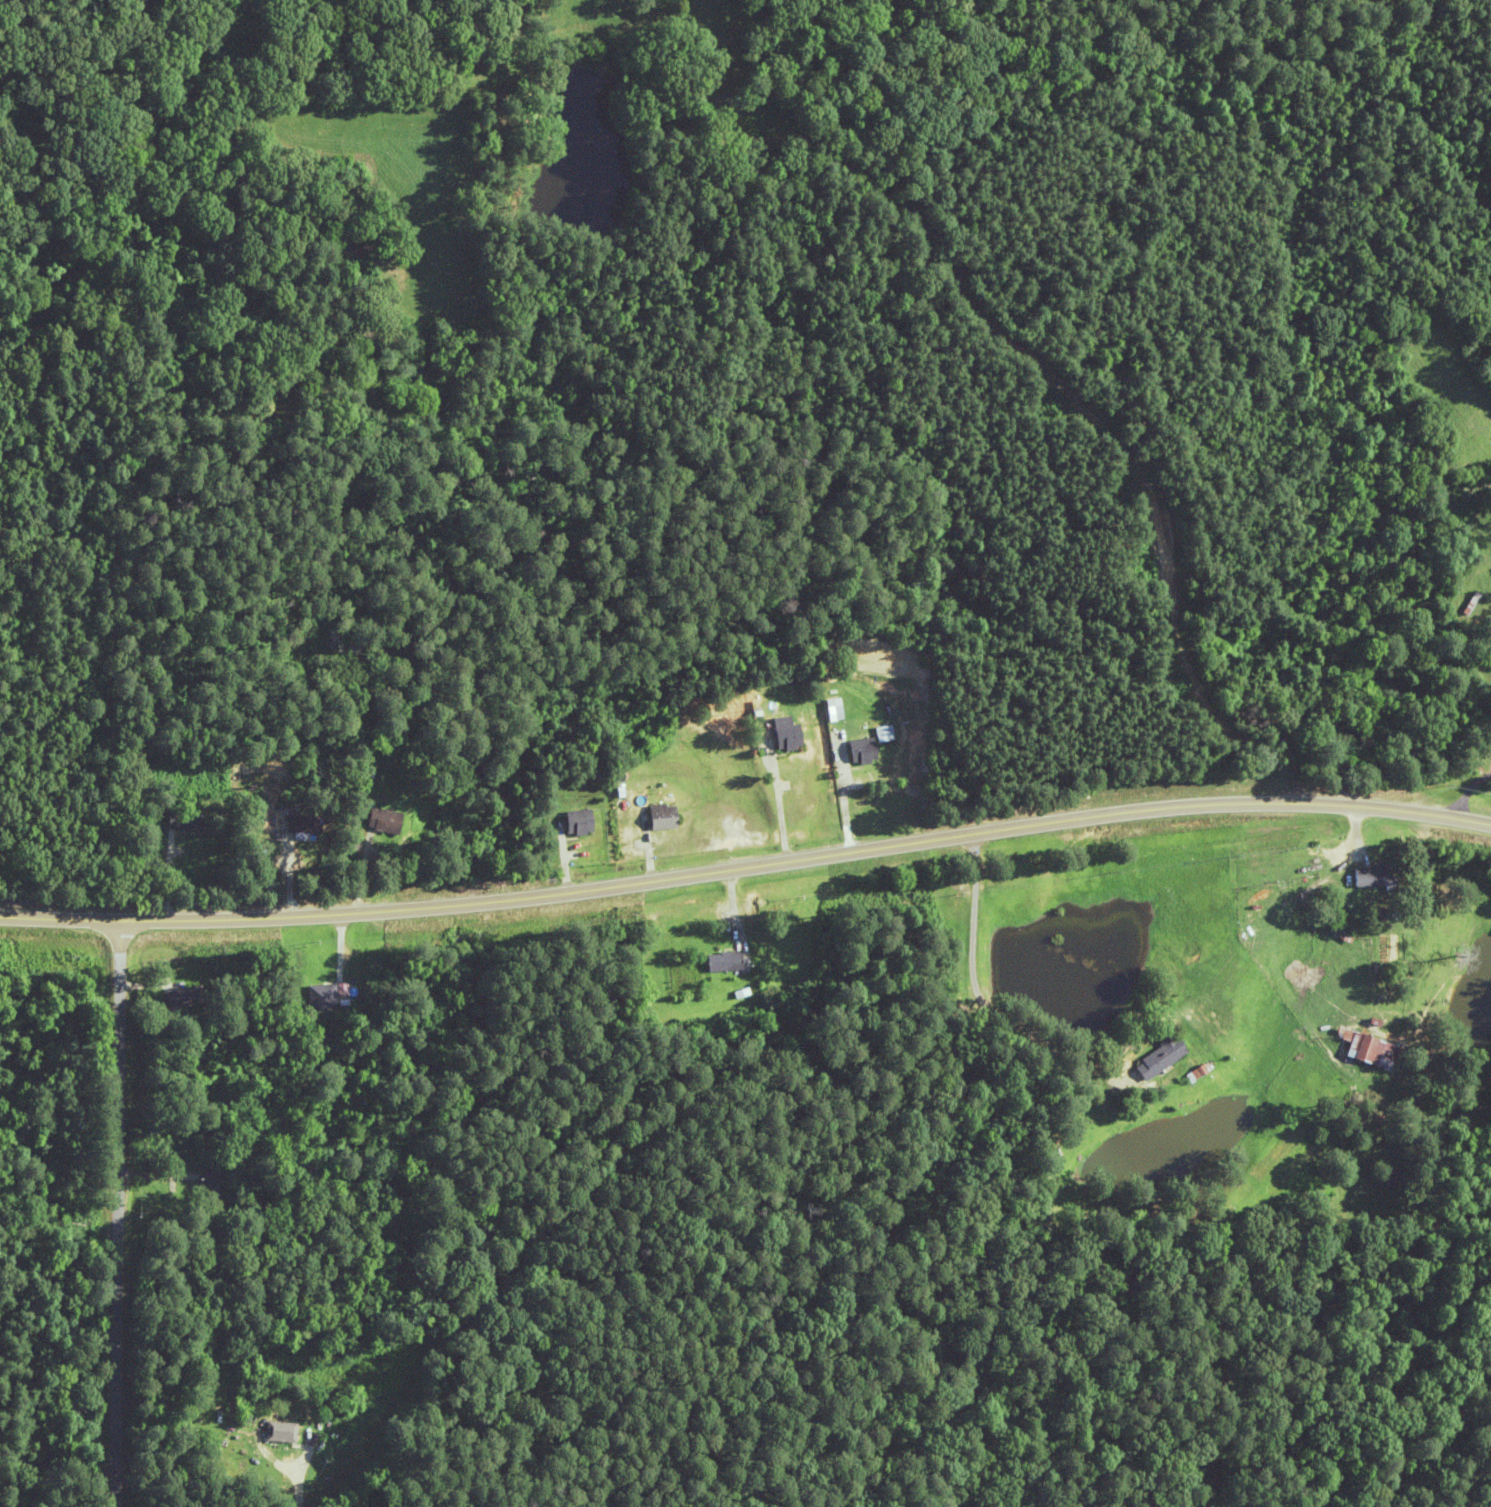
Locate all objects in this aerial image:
road: (457, 151)
building: (1490, 617)
building: (837, 709)
building: (787, 733)
building: (888, 733)
building: (863, 750)
building: (660, 816)
building: (186, 821)
building: (382, 821)
building: (577, 821)
building: (303, 823)
road: (747, 864)
building: (1365, 876)
building: (720, 961)
building: (325, 995)
building: (176, 996)
building: (1368, 1051)
building: (1154, 1057)
building: (1351, 1117)
building: (205, 1188)
road: (111, 1210)
building: (232, 1399)
building: (271, 1431)
road: (359, 1488)

